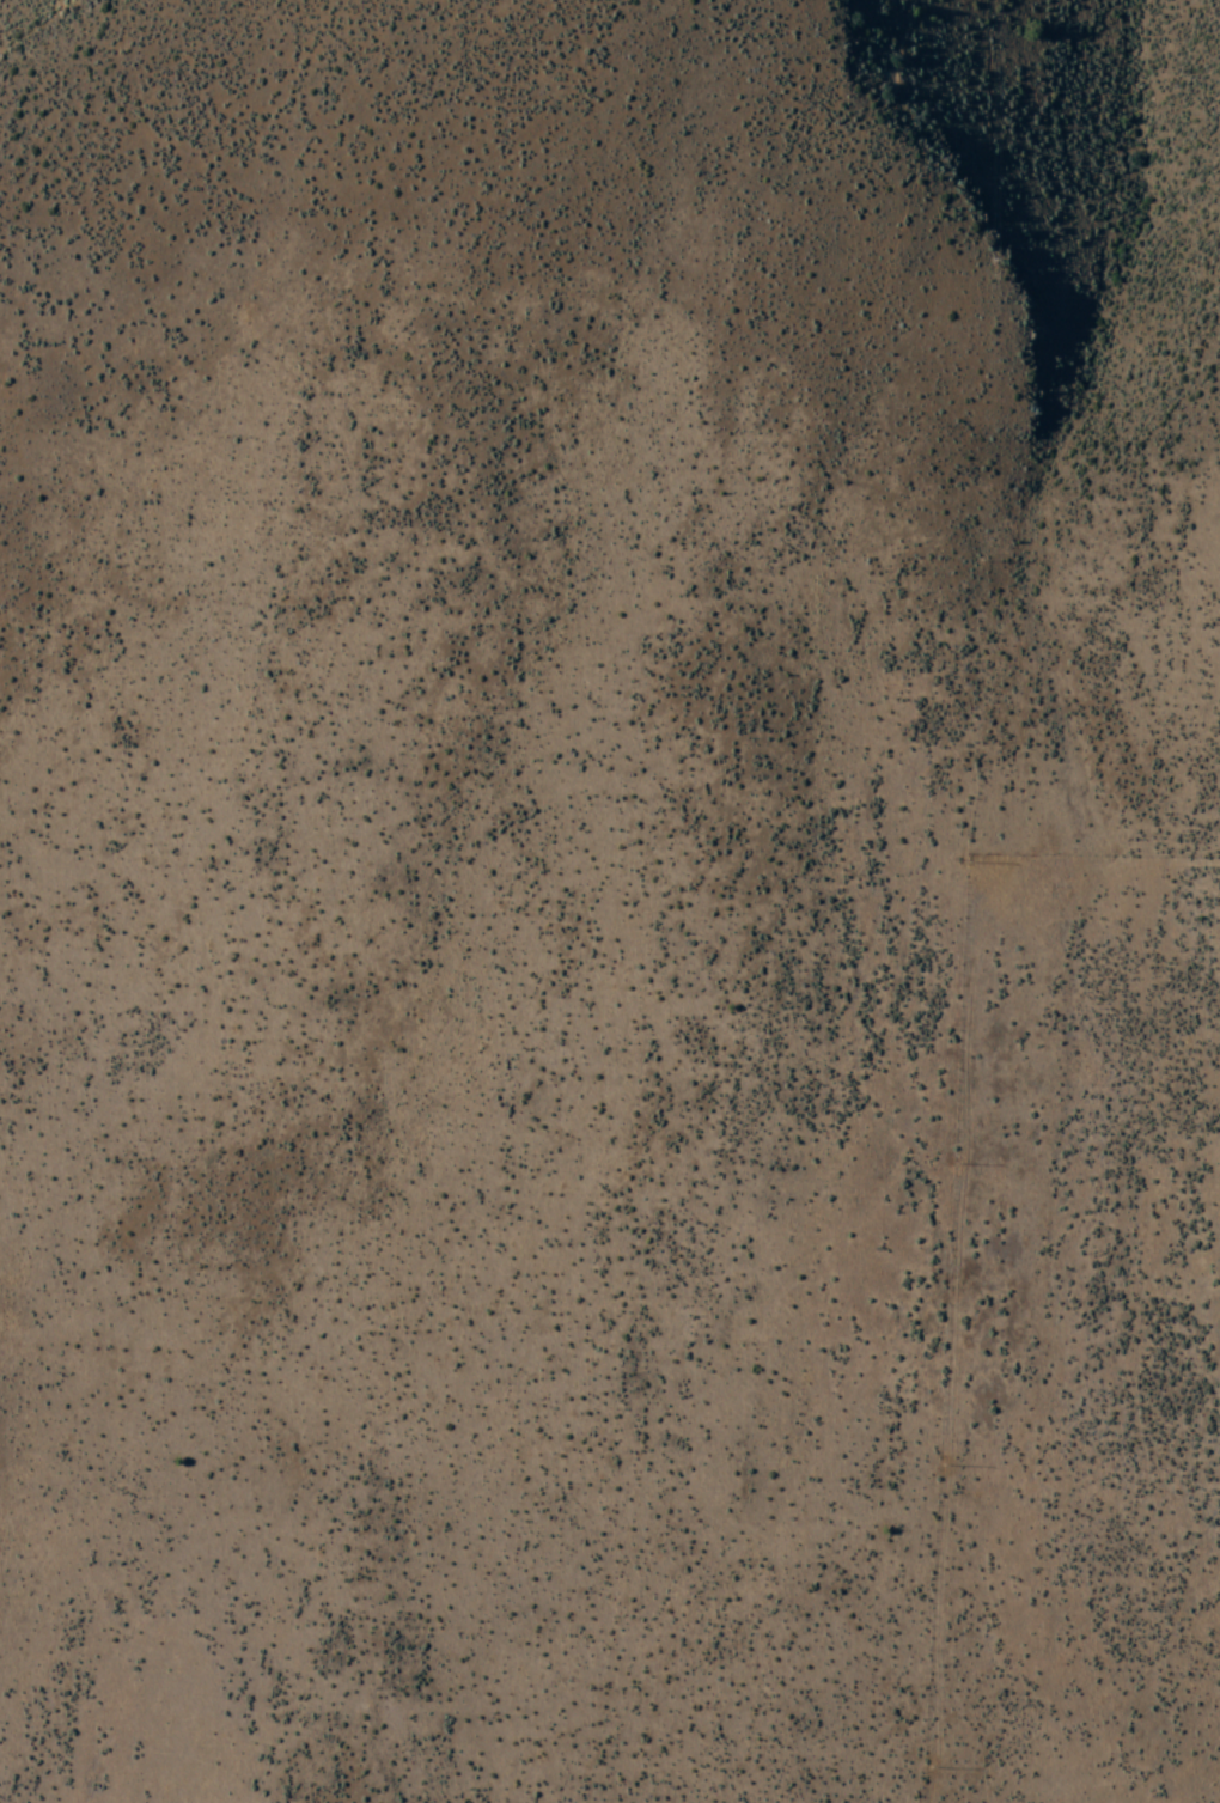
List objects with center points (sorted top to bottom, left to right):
road: (1076, 849)

